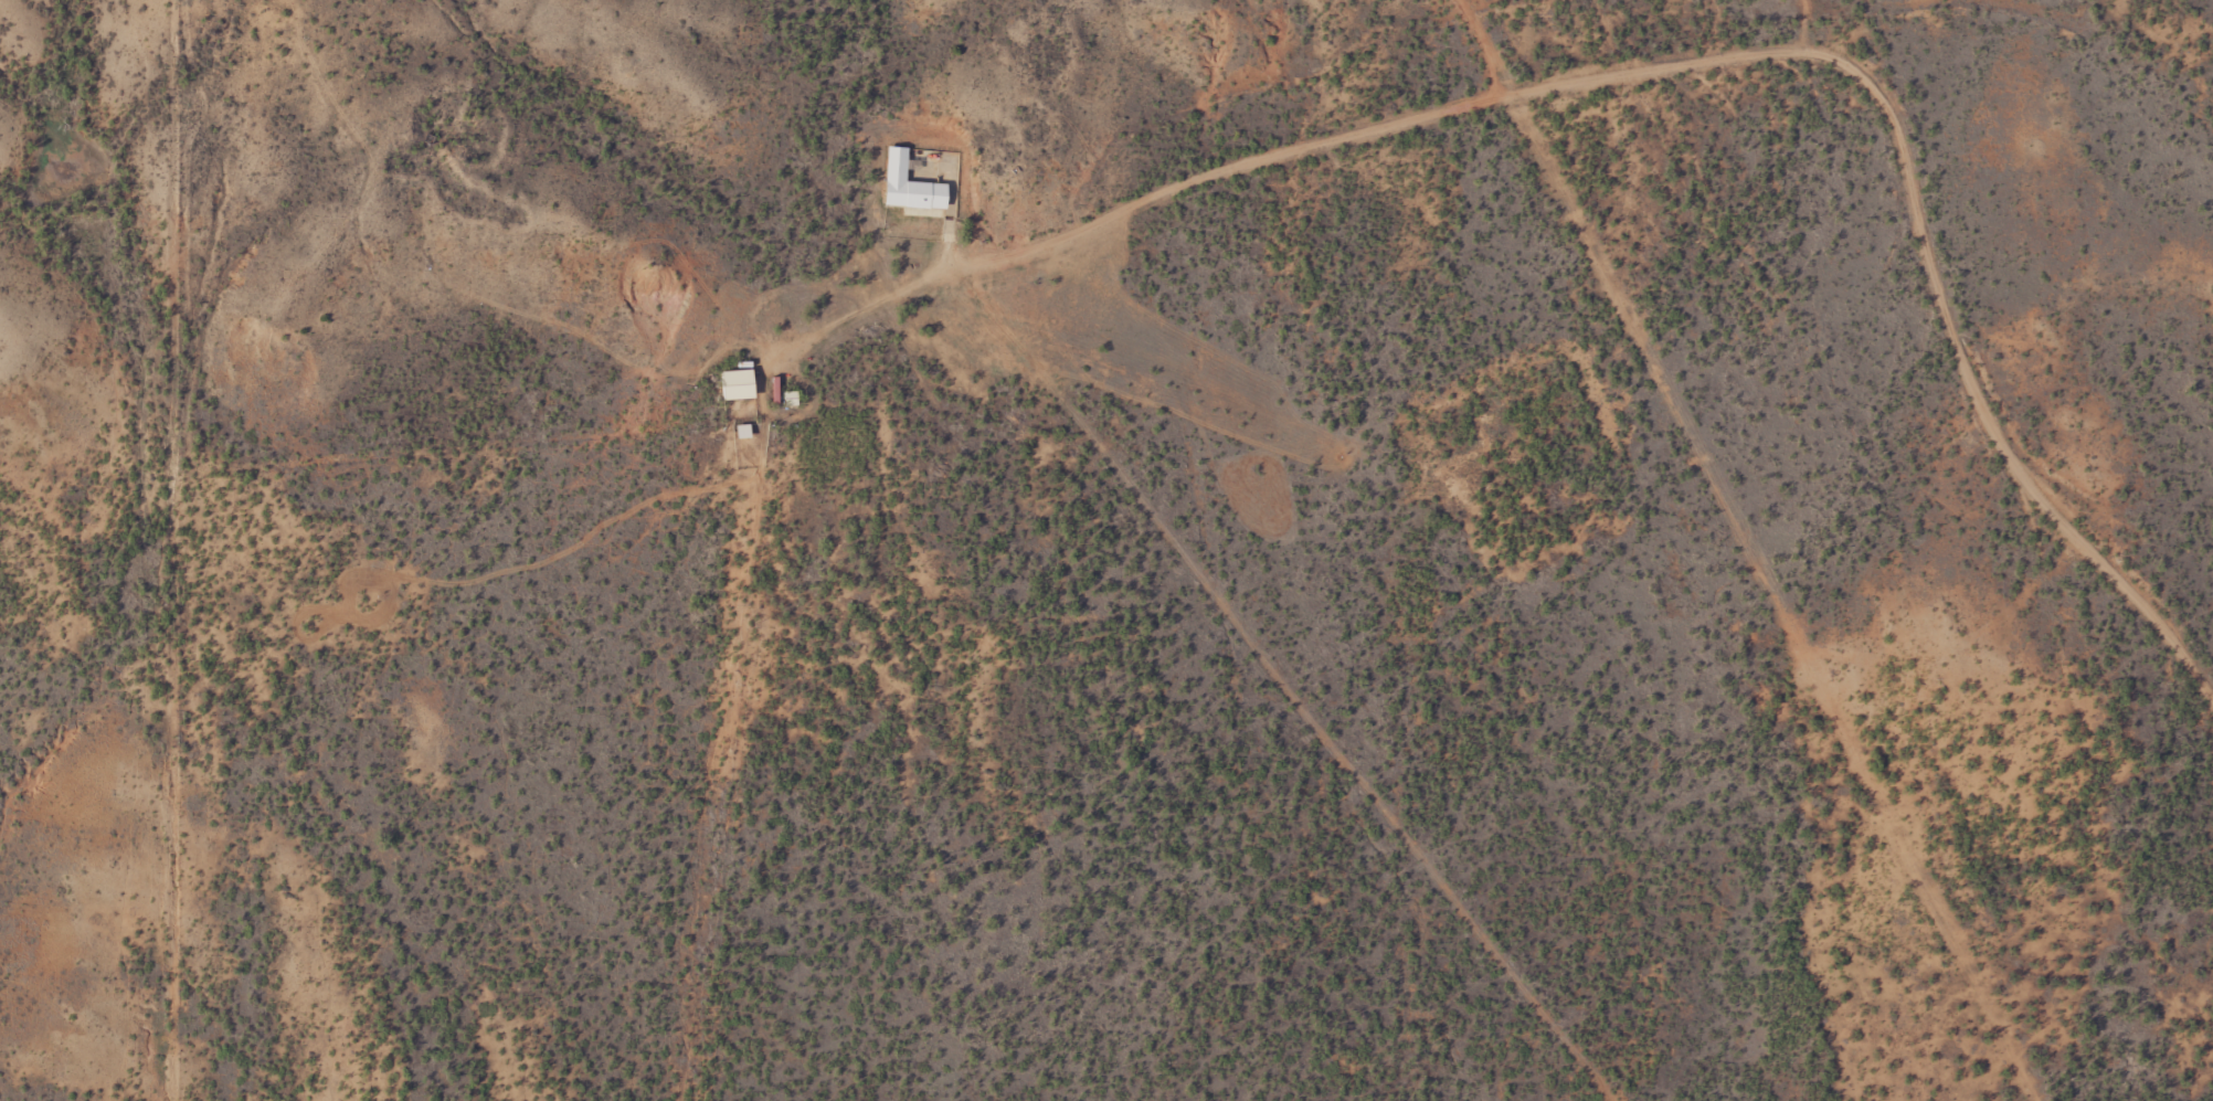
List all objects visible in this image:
road: (1756, 61)
building: (910, 184)
building: (739, 384)
building: (791, 399)

